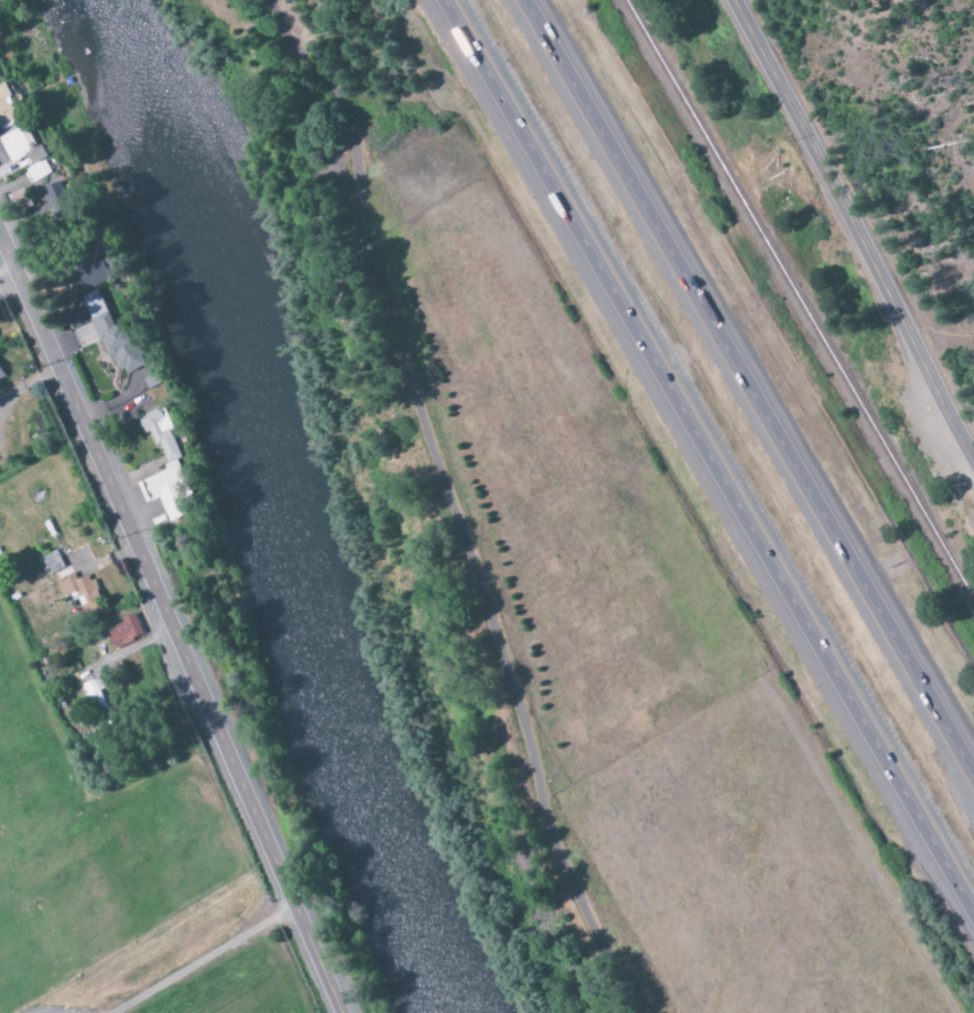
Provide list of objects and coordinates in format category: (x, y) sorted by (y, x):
building: (6, 106)
building: (21, 147)
building: (38, 172)
road: (853, 234)
building: (91, 274)
railway: (803, 303)
building: (1, 377)
road: (749, 387)
building: (171, 456)
road: (708, 457)
road: (452, 505)
river: (256, 514)
road: (131, 533)
building: (67, 579)
building: (122, 633)
building: (95, 697)
road: (303, 919)
road: (202, 956)

